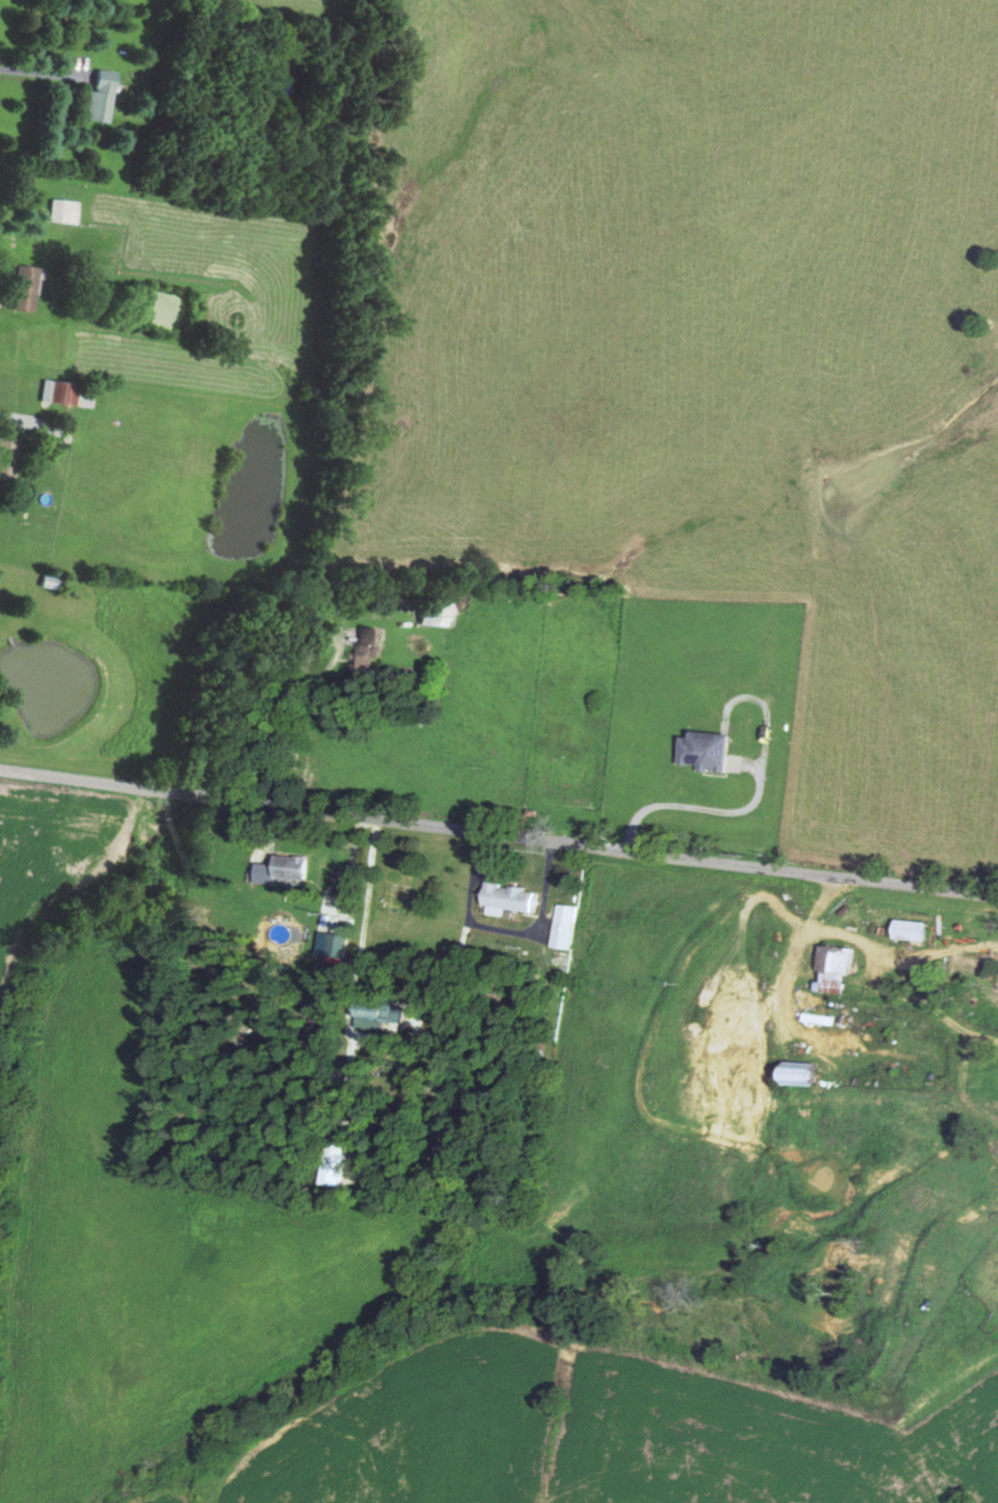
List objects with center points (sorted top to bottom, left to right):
building: (95, 94)
building: (59, 210)
building: (14, 287)
road: (356, 423)
building: (4, 456)
building: (431, 608)
building: (363, 646)
building: (700, 749)
building: (291, 866)
road: (498, 867)
building: (506, 898)
building: (562, 925)
building: (906, 929)
building: (831, 967)
building: (793, 1073)

